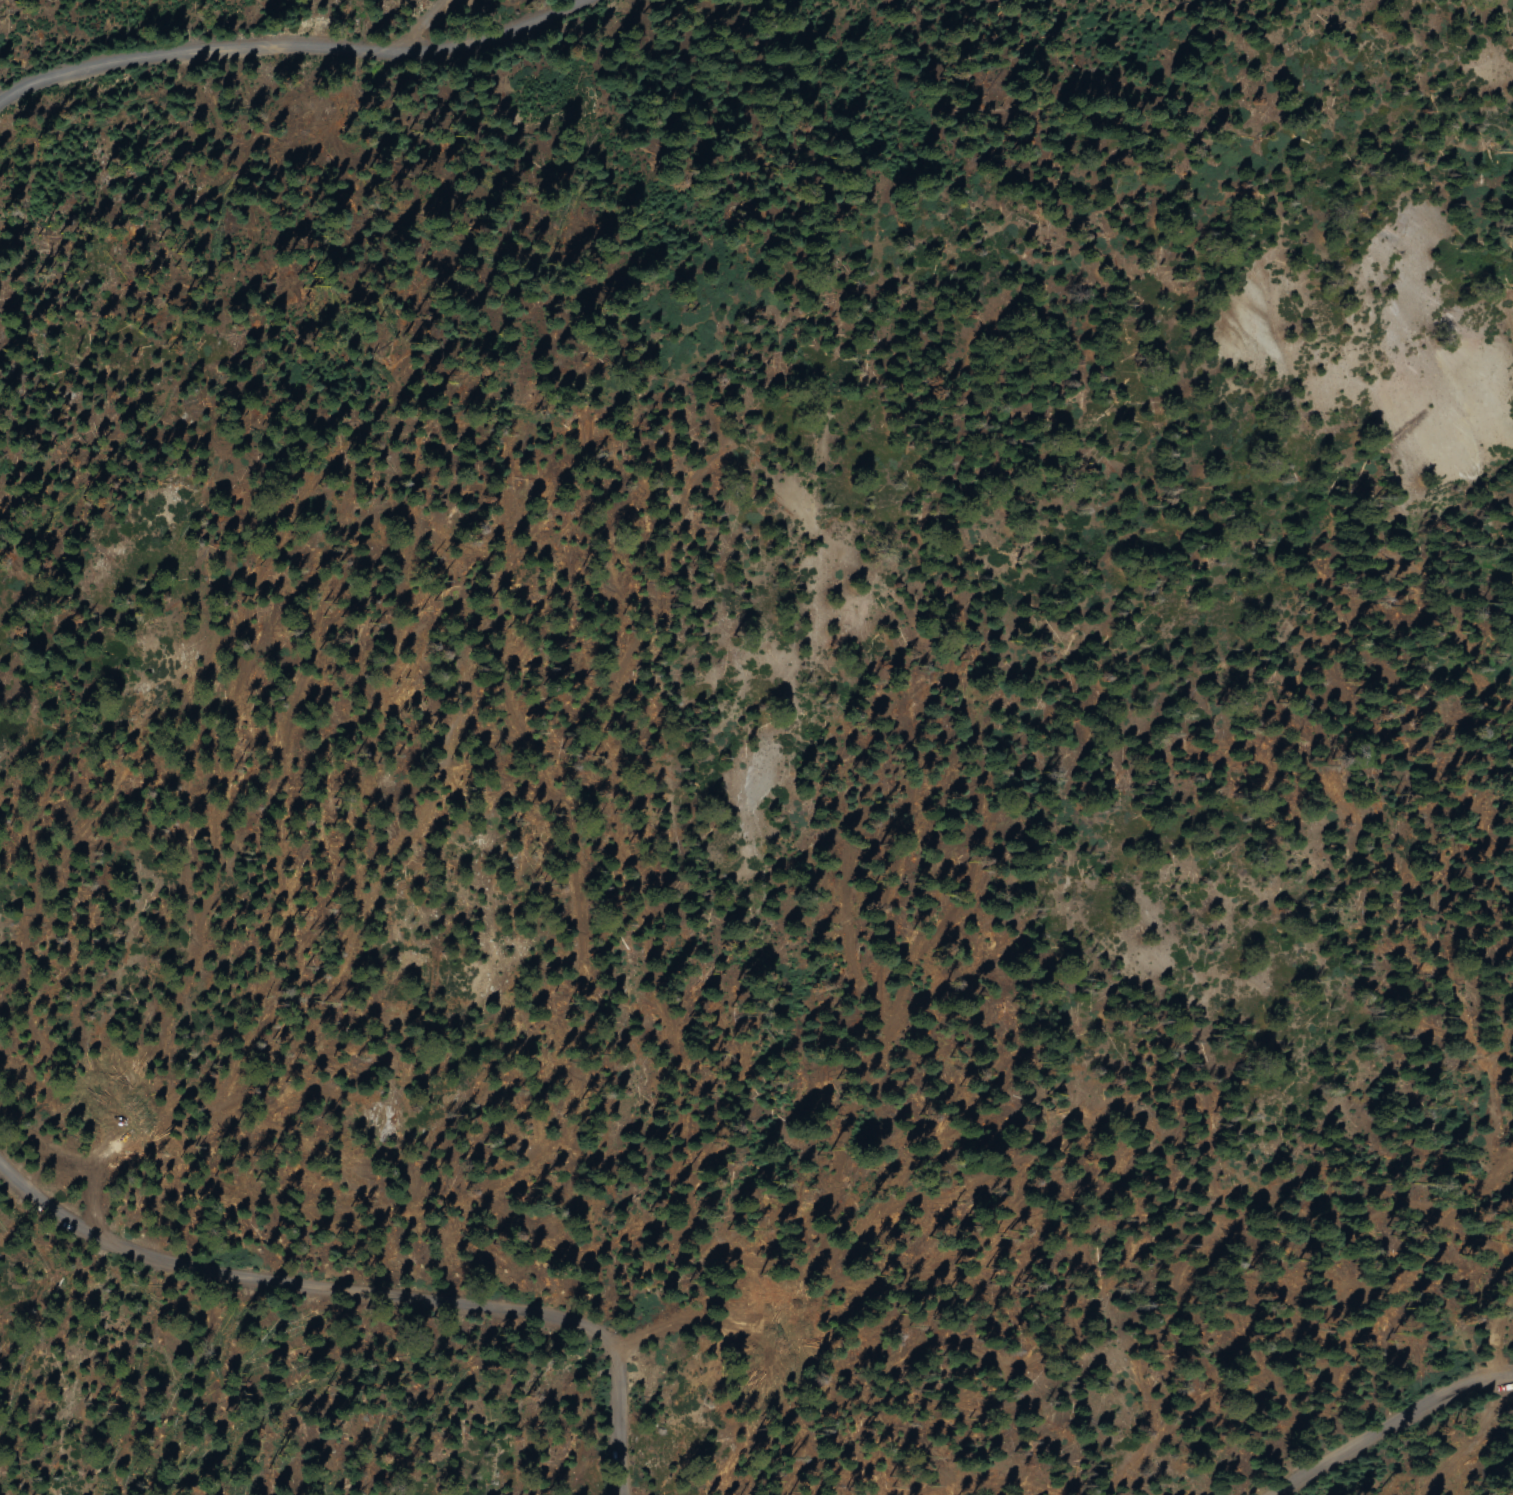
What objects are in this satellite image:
road: (415, 25)
road: (298, 46)
road: (367, 1294)
road: (1391, 1426)

